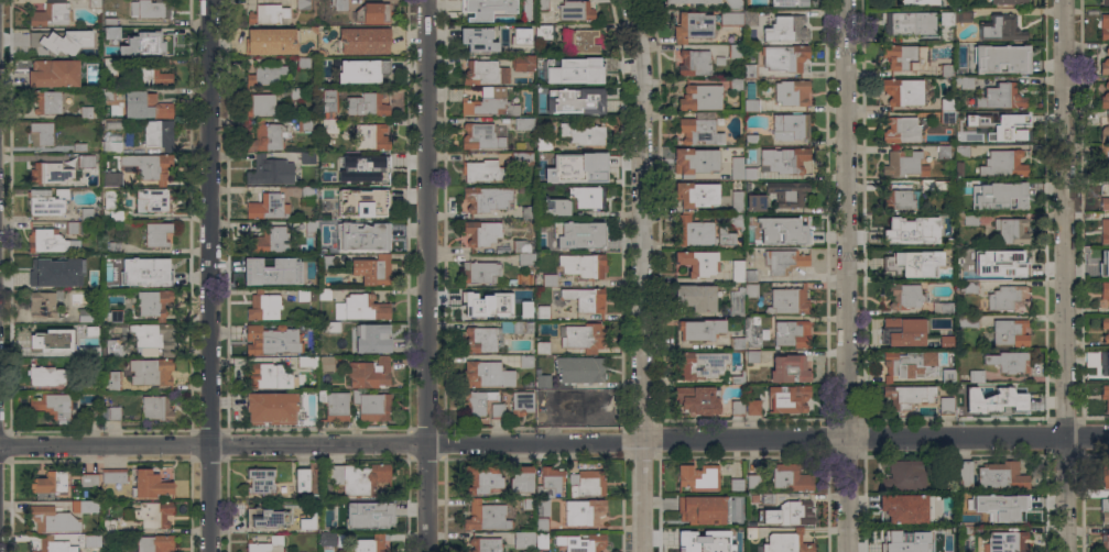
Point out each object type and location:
building: (689, 1)
building: (1009, 1)
building: (920, 2)
building: (1106, 2)
building: (789, 3)
building: (302, 4)
building: (542, 4)
building: (733, 4)
building: (95, 5)
building: (339, 5)
building: (150, 9)
building: (485, 9)
building: (526, 9)
building: (575, 11)
building: (265, 12)
building: (51, 13)
building: (371, 13)
building: (963, 14)
building: (750, 15)
building: (731, 18)
building: (109, 21)
building: (910, 23)
building: (693, 25)
building: (948, 25)
building: (1103, 26)
building: (787, 29)
building: (999, 29)
building: (111, 32)
building: (543, 32)
building: (81, 33)
building: (521, 37)
building: (477, 40)
building: (271, 41)
building: (363, 41)
building: (579, 41)
building: (148, 44)
building: (45, 45)
building: (735, 51)
building: (783, 56)
building: (904, 56)
building: (999, 59)
building: (718, 60)
building: (303, 63)
building: (521, 63)
building: (693, 63)
building: (1105, 63)
building: (110, 67)
building: (585, 68)
building: (361, 69)
building: (946, 69)
building: (750, 70)
building: (562, 71)
building: (485, 73)
building: (53, 74)
building: (152, 75)
building: (265, 75)
building: (545, 77)
building: (964, 82)
building: (736, 84)
building: (1106, 84)
building: (902, 91)
building: (792, 92)
building: (295, 93)
building: (107, 95)
building: (699, 97)
building: (1000, 97)
building: (329, 100)
building: (1103, 100)
building: (46, 101)
building: (573, 102)
building: (368, 103)
building: (946, 103)
building: (260, 104)
building: (144, 106)
building: (483, 106)
building: (751, 106)
building: (511, 109)
building: (85, 112)
building: (946, 117)
building: (968, 118)
building: (522, 123)
building: (304, 124)
building: (329, 125)
building: (790, 126)
building: (1005, 129)
building: (901, 130)
building: (698, 131)
building: (1105, 132)
building: (40, 133)
building: (157, 134)
building: (583, 134)
building: (268, 136)
building: (369, 136)
building: (482, 136)
building: (751, 140)
building: (544, 142)
building: (110, 146)
building: (79, 147)
building: (943, 152)
building: (961, 152)
building: (305, 157)
building: (329, 157)
building: (522, 157)
building: (1105, 157)
building: (783, 159)
building: (86, 161)
building: (694, 161)
building: (579, 163)
building: (904, 164)
building: (1002, 164)
building: (146, 166)
building: (736, 167)
building: (959, 168)
building: (270, 169)
building: (478, 169)
building: (368, 170)
building: (50, 173)
building: (749, 173)
building: (544, 177)
building: (110, 179)
building: (926, 184)
building: (306, 191)
building: (787, 191)
building: (695, 194)
building: (325, 195)
building: (587, 196)
building: (998, 196)
building: (900, 198)
building: (152, 200)
building: (486, 200)
building: (46, 201)
building: (737, 201)
building: (754, 202)
building: (1105, 203)
building: (115, 205)
building: (367, 205)
building: (268, 207)
building: (555, 207)
building: (528, 211)
building: (88, 213)
building: (969, 219)
building: (935, 220)
building: (947, 220)
building: (737, 221)
building: (309, 227)
building: (74, 228)
building: (782, 231)
building: (906, 231)
building: (1010, 231)
building: (1103, 231)
building: (694, 233)
building: (156, 234)
building: (479, 234)
building: (362, 235)
building: (578, 235)
building: (724, 236)
building: (269, 240)
building: (46, 241)
building: (522, 245)
building: (115, 247)
building: (503, 249)
building: (970, 252)
building: (524, 260)
building: (304, 261)
building: (327, 262)
building: (783, 262)
building: (1103, 262)
building: (697, 263)
building: (1012, 263)
building: (902, 264)
building: (583, 265)
building: (46, 268)
building: (372, 269)
building: (738, 271)
building: (108, 272)
building: (143, 272)
building: (480, 273)
building: (946, 273)
building: (263, 275)
road: (644, 275)
building: (750, 275)
road: (1064, 275)
road: (208, 276)
road: (426, 276)
road: (844, 276)
building: (548, 280)
building: (84, 281)
building: (510, 281)
building: (969, 287)
building: (751, 290)
building: (1105, 290)
building: (520, 292)
building: (324, 294)
building: (302, 296)
building: (696, 297)
building: (905, 297)
building: (580, 299)
building: (1008, 299)
building: (787, 300)
building: (44, 303)
building: (153, 303)
building: (737, 303)
building: (481, 306)
building: (263, 307)
building: (359, 308)
building: (942, 308)
building: (543, 312)
building: (116, 314)
building: (86, 317)
building: (968, 321)
building: (335, 325)
building: (522, 327)
building: (1105, 328)
building: (699, 330)
building: (751, 331)
building: (903, 331)
building: (1010, 332)
building: (791, 333)
building: (764, 334)
building: (45, 338)
building: (150, 338)
building: (373, 338)
building: (583, 338)
building: (272, 340)
building: (481, 340)
building: (946, 342)
building: (736, 343)
building: (88, 346)
building: (542, 347)
building: (113, 351)
building: (752, 357)
building: (308, 361)
building: (526, 361)
building: (1008, 361)
building: (327, 363)
building: (1105, 363)
building: (907, 364)
building: (699, 365)
building: (789, 368)
building: (579, 369)
building: (150, 372)
building: (368, 373)
building: (486, 374)
building: (947, 375)
building: (45, 376)
building: (269, 376)
building: (976, 376)
building: (737, 377)
building: (543, 380)
building: (88, 383)
building: (113, 384)
building: (907, 396)
building: (1106, 396)
building: (787, 398)
building: (1007, 398)
building: (971, 399)
building: (696, 400)
building: (477, 401)
building: (521, 402)
building: (334, 405)
building: (946, 405)
building: (54, 406)
building: (370, 406)
building: (589, 406)
building: (263, 407)
building: (737, 407)
building: (752, 407)
building: (964, 407)
building: (155, 408)
building: (497, 410)
building: (91, 413)
building: (113, 413)
building: (304, 413)
building: (555, 413)
road: (1087, 438)
road: (746, 440)
road: (214, 445)
building: (947, 467)
building: (964, 474)
building: (115, 475)
building: (1105, 475)
building: (905, 476)
building: (1001, 476)
building: (791, 477)
building: (481, 478)
building: (697, 478)
building: (87, 479)
building: (301, 479)
building: (359, 479)
building: (260, 481)
building: (753, 481)
building: (520, 482)
building: (550, 482)
building: (47, 483)
building: (587, 483)
building: (149, 484)
building: (736, 484)
building: (953, 484)
building: (768, 498)
building: (528, 504)
building: (85, 506)
building: (1000, 506)
building: (543, 507)
building: (903, 508)
building: (700, 509)
building: (1105, 509)
building: (584, 511)
building: (795, 512)
building: (152, 515)
building: (368, 515)
building: (486, 517)
building: (263, 518)
building: (53, 519)
building: (303, 525)
building: (542, 525)
building: (109, 526)
building: (965, 529)
building: (750, 531)
building: (737, 533)
building: (107, 538)
building: (326, 539)
building: (904, 539)
building: (91, 540)
building: (524, 540)
building: (542, 540)
building: (698, 541)
building: (1005, 541)
building: (786, 542)
building: (153, 543)
building: (371, 543)
building: (580, 543)
building: (1106, 543)
building: (54, 544)
building: (267, 544)
building: (485, 544)
building: (946, 549)
building: (542, 551)

